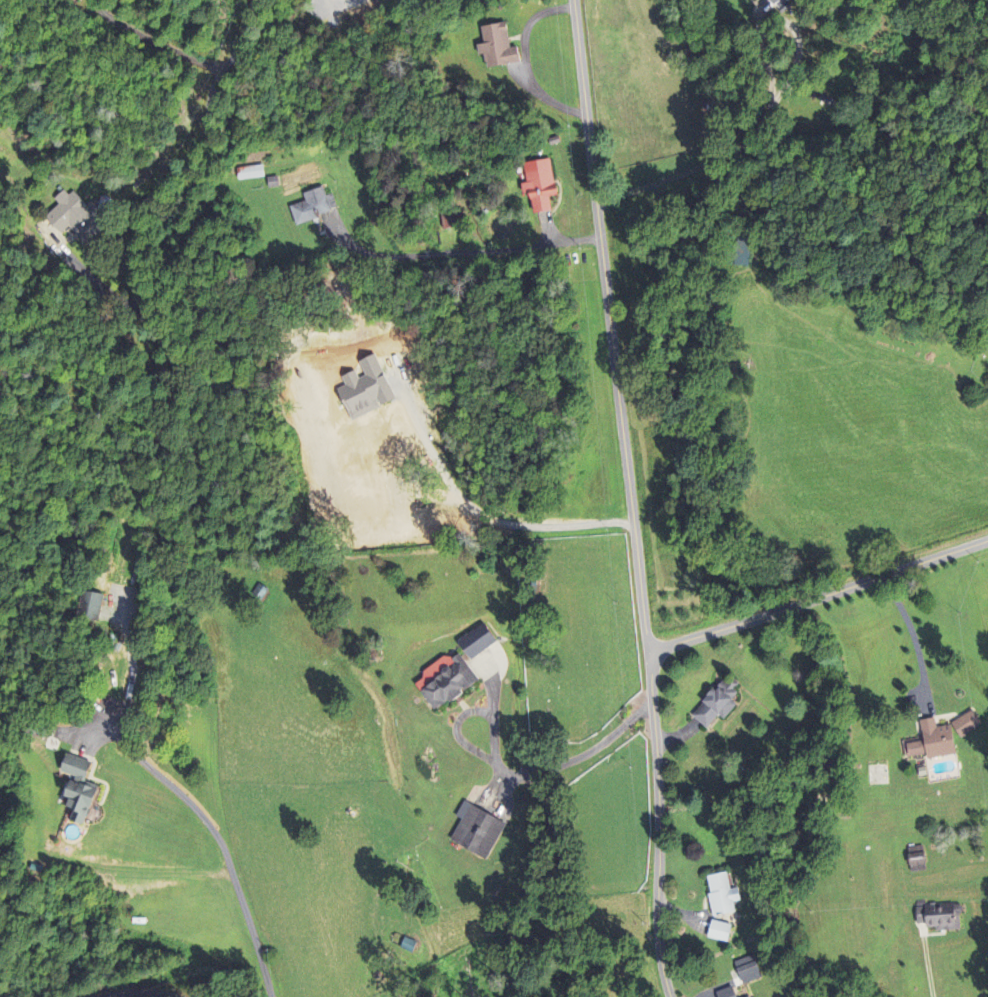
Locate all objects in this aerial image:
building: (752, 0)
building: (780, 5)
road: (242, 38)
building: (496, 49)
building: (250, 174)
building: (538, 188)
building: (312, 208)
building: (63, 214)
road: (604, 261)
building: (390, 488)
road: (640, 586)
building: (259, 594)
road: (819, 598)
building: (89, 608)
building: (476, 643)
building: (445, 683)
building: (714, 707)
building: (932, 743)
building: (77, 789)
road: (659, 824)
building: (476, 832)
building: (915, 860)
building: (721, 896)
building: (936, 918)
building: (719, 933)
building: (747, 972)
road: (136, 992)
building: (726, 993)

